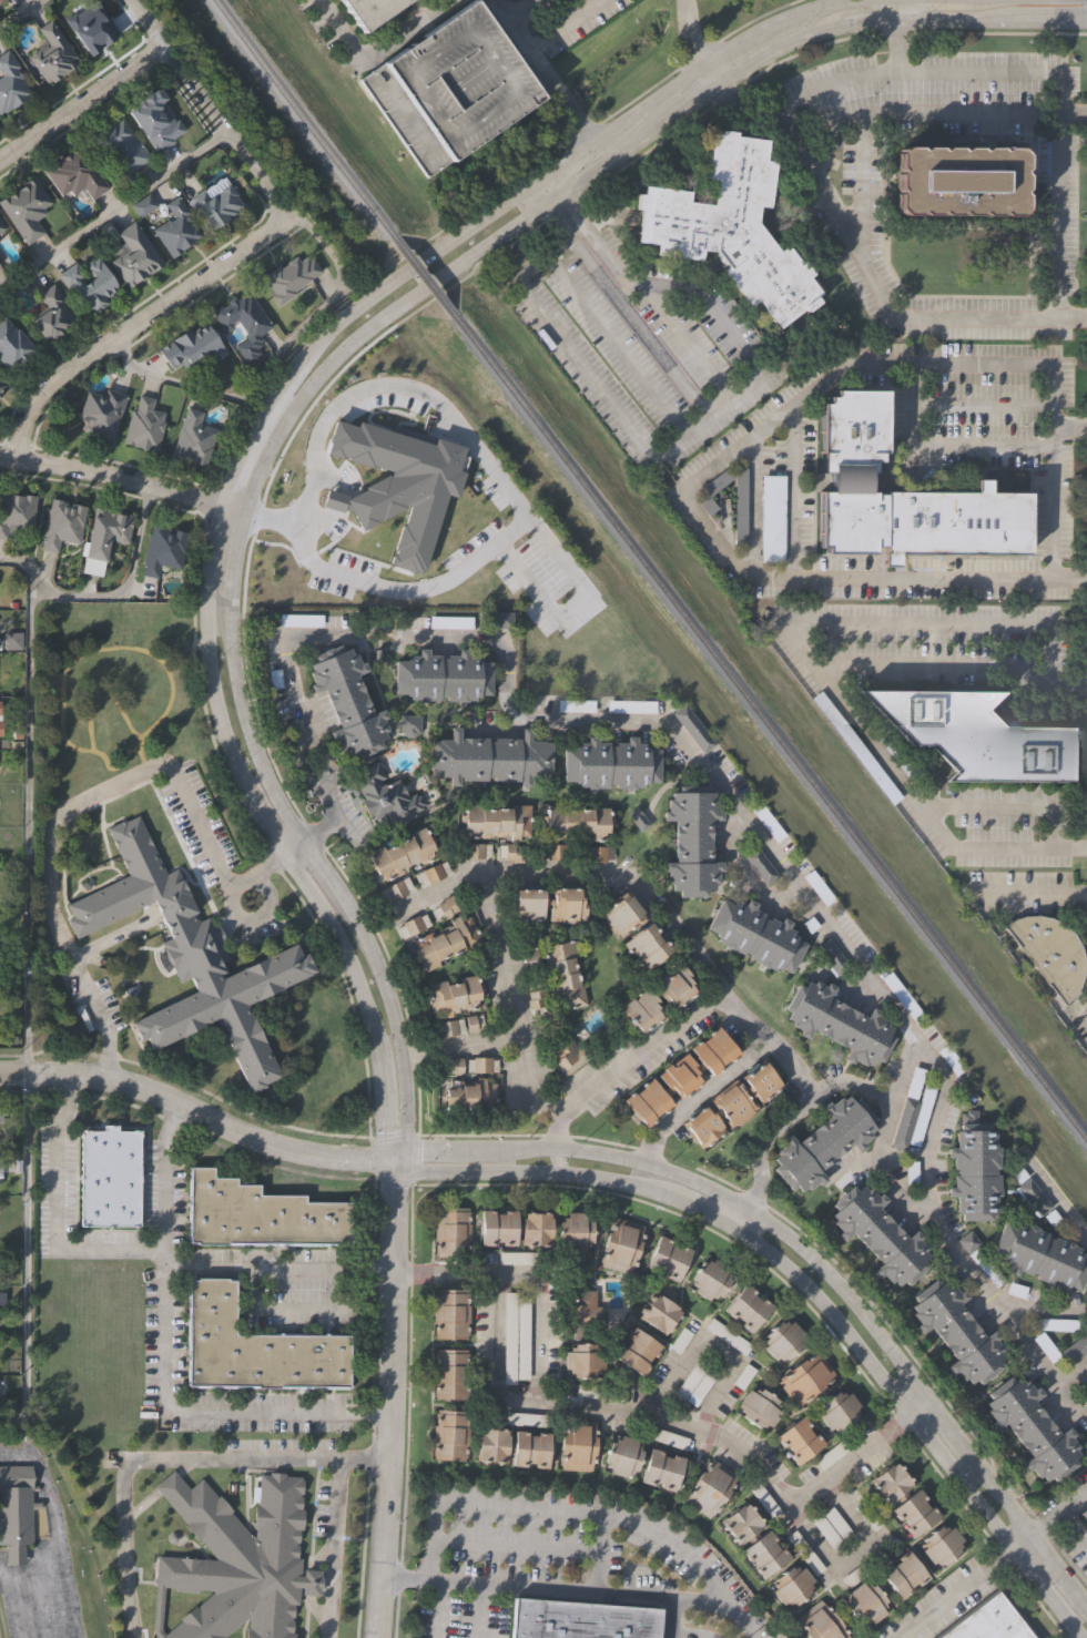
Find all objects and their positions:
building: (0, 0)
road: (497, 1)
road: (522, 9)
building: (374, 11)
road: (23, 14)
road: (563, 23)
road: (905, 33)
road: (749, 37)
road: (799, 41)
road: (690, 43)
road: (376, 50)
building: (53, 52)
building: (11, 81)
railway: (275, 81)
road: (551, 81)
building: (453, 88)
parking garage: (453, 88)
road: (80, 102)
road: (204, 104)
road: (897, 114)
road: (1073, 115)
building: (154, 118)
road: (601, 130)
building: (120, 143)
building: (74, 174)
building: (961, 182)
road: (546, 185)
road: (555, 200)
building: (216, 204)
building: (24, 210)
road: (567, 210)
road: (112, 211)
road: (561, 218)
road: (575, 223)
building: (1, 227)
building: (727, 228)
building: (175, 230)
building: (0, 231)
railway: (393, 237)
road: (1059, 251)
building: (134, 255)
road: (465, 257)
building: (289, 278)
building: (90, 283)
road: (343, 312)
building: (50, 313)
road: (1074, 317)
building: (244, 321)
road: (715, 322)
road: (135, 324)
road: (616, 340)
building: (12, 346)
building: (191, 347)
road: (273, 358)
building: (0, 384)
building: (0, 388)
building: (101, 411)
building: (144, 424)
building: (853, 426)
road: (913, 428)
road: (1070, 430)
building: (193, 438)
road: (660, 451)
building: (850, 476)
road: (122, 478)
building: (397, 481)
road: (508, 492)
building: (16, 510)
building: (925, 521)
building: (62, 523)
building: (106, 531)
building: (163, 549)
road: (746, 573)
road: (1070, 579)
road: (112, 598)
road: (573, 604)
building: (301, 619)
parking lot: (301, 619)
building: (451, 620)
parking lot: (451, 620)
road: (807, 659)
road: (951, 667)
building: (444, 676)
building: (349, 701)
road: (294, 702)
building: (578, 704)
parking lot: (578, 704)
building: (633, 705)
parking lot: (633, 705)
building: (1, 718)
building: (410, 724)
railway: (769, 728)
building: (694, 729)
parking lot: (694, 729)
building: (975, 734)
road: (251, 746)
building: (854, 746)
building: (489, 759)
building: (611, 764)
road: (106, 785)
building: (383, 796)
road: (734, 805)
road: (1007, 806)
building: (496, 821)
building: (575, 824)
road: (28, 825)
building: (769, 825)
parking lot: (769, 825)
road: (342, 831)
building: (690, 842)
building: (475, 849)
road: (277, 852)
building: (514, 852)
building: (556, 852)
building: (402, 853)
building: (596, 855)
building: (760, 868)
parking lot: (760, 868)
road: (744, 871)
building: (431, 872)
road: (498, 872)
building: (395, 889)
building: (817, 889)
parking lot: (817, 889)
road: (433, 892)
road: (1030, 894)
building: (550, 906)
building: (446, 908)
building: (621, 916)
building: (412, 926)
building: (755, 937)
building: (445, 943)
building: (644, 947)
building: (1050, 952)
building: (190, 957)
building: (530, 958)
parking lot: (530, 958)
building: (831, 959)
parking lot: (831, 959)
building: (563, 977)
building: (674, 988)
building: (454, 995)
building: (536, 997)
building: (900, 999)
parking lot: (900, 999)
building: (640, 1010)
road: (743, 1021)
building: (836, 1025)
building: (448, 1028)
road: (456, 1044)
building: (569, 1055)
building: (947, 1059)
parking lot: (947, 1059)
building: (479, 1065)
road: (900, 1070)
building: (679, 1075)
building: (912, 1082)
parking lot: (912, 1082)
road: (852, 1083)
road: (697, 1095)
building: (468, 1096)
building: (731, 1107)
road: (185, 1110)
building: (918, 1116)
parking lot: (918, 1116)
building: (1, 1117)
building: (902, 1122)
parking lot: (902, 1122)
building: (821, 1143)
road: (427, 1150)
road: (520, 1150)
road: (589, 1153)
road: (555, 1160)
building: (0, 1169)
building: (974, 1169)
road: (428, 1171)
road: (522, 1171)
road: (601, 1176)
building: (105, 1177)
building: (1025, 1191)
parking lot: (1025, 1191)
road: (1055, 1197)
road: (57, 1211)
building: (262, 1213)
building: (515, 1228)
building: (573, 1231)
building: (448, 1233)
building: (877, 1235)
building: (619, 1248)
road: (26, 1255)
building: (1040, 1257)
building: (668, 1259)
road: (958, 1259)
building: (520, 1260)
parking lot: (520, 1260)
road: (276, 1268)
building: (985, 1268)
parking lot: (985, 1268)
road: (536, 1270)
building: (711, 1279)
road: (298, 1309)
building: (749, 1309)
road: (1038, 1309)
building: (581, 1311)
building: (448, 1314)
building: (661, 1314)
building: (1053, 1324)
parking lot: (1053, 1324)
building: (955, 1331)
building: (724, 1335)
parking lot: (724, 1335)
building: (515, 1337)
parking lot: (515, 1337)
building: (784, 1340)
building: (254, 1345)
road: (710, 1345)
building: (1043, 1346)
parking lot: (1043, 1346)
building: (1074, 1350)
parking lot: (1074, 1350)
building: (638, 1352)
road: (885, 1354)
building: (580, 1361)
road: (163, 1366)
building: (450, 1375)
building: (805, 1377)
building: (3, 1385)
building: (692, 1385)
parking lot: (692, 1385)
road: (885, 1386)
building: (1086, 1392)
building: (598, 1394)
parking lot: (598, 1394)
building: (1085, 1401)
building: (760, 1406)
building: (839, 1410)
road: (388, 1413)
building: (524, 1420)
parking lot: (524, 1420)
building: (1032, 1427)
building: (448, 1436)
building: (659, 1437)
parking lot: (659, 1437)
building: (800, 1438)
building: (577, 1444)
building: (490, 1447)
building: (837, 1448)
building: (532, 1451)
building: (622, 1456)
road: (169, 1459)
building: (661, 1469)
building: (891, 1483)
road: (43, 1491)
building: (710, 1491)
building: (762, 1494)
parking lot: (762, 1494)
road: (1073, 1496)
road: (479, 1504)
building: (16, 1509)
building: (1084, 1512)
building: (915, 1513)
building: (741, 1523)
road: (1043, 1523)
road: (1073, 1525)
road: (642, 1526)
building: (833, 1526)
parking lot: (833, 1526)
building: (941, 1544)
road: (515, 1545)
road: (1019, 1545)
road: (335, 1548)
building: (805, 1550)
parking lot: (805, 1550)
building: (764, 1553)
road: (853, 1554)
road: (0, 1556)
road: (13, 1556)
building: (237, 1560)
building: (864, 1569)
parking lot: (864, 1569)
building: (902, 1574)
building: (792, 1585)
road: (573, 1591)
road: (954, 1595)
building: (865, 1604)
road: (439, 1610)
road: (477, 1611)
building: (578, 1618)
building: (991, 1621)
building: (819, 1624)
road: (55, 1636)

